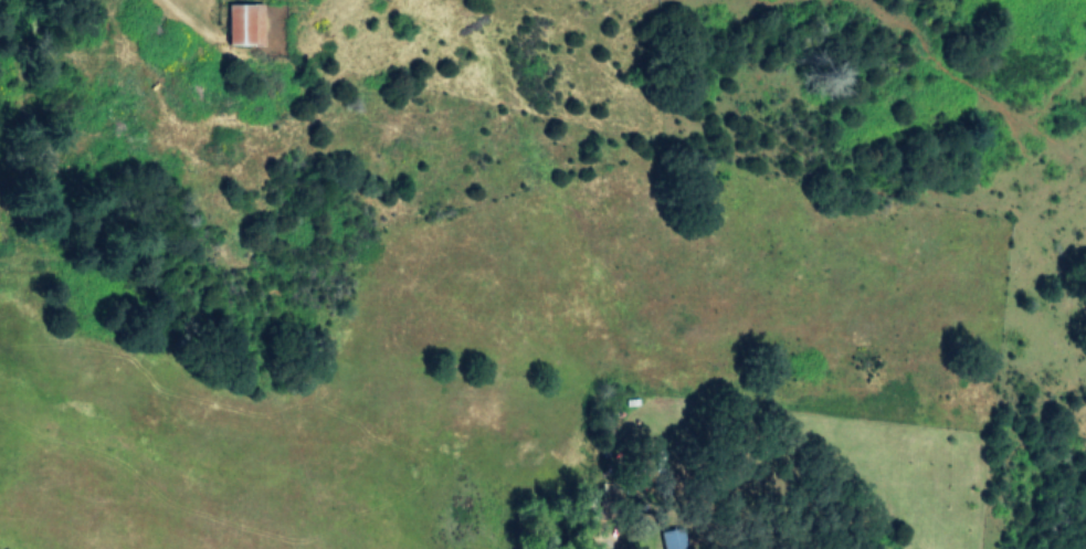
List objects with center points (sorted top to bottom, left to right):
road: (187, 20)
building: (244, 23)
building: (673, 539)

